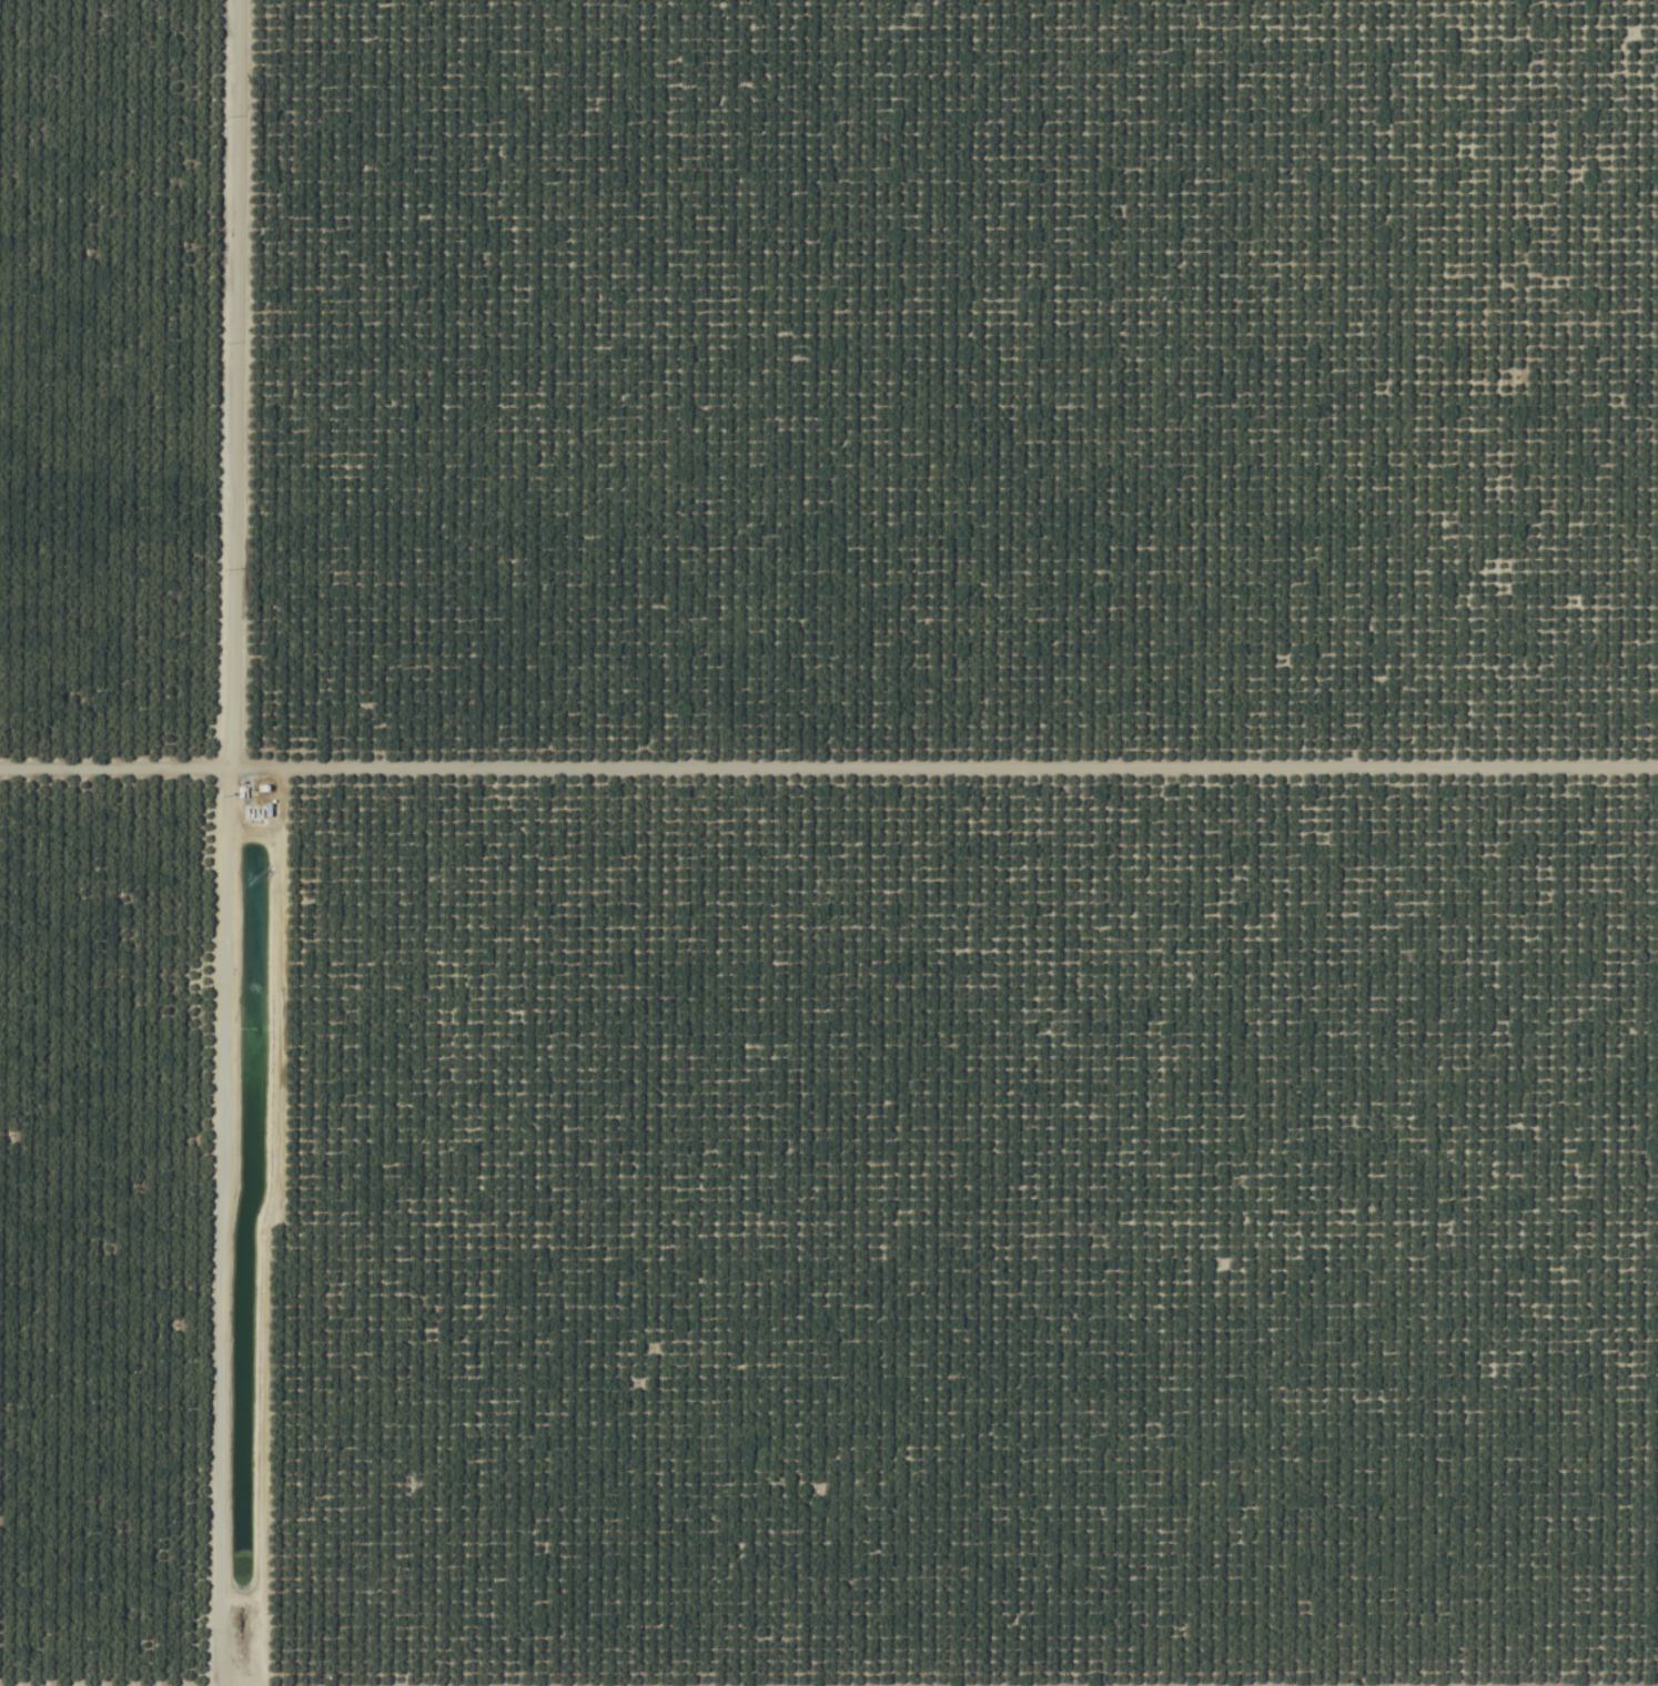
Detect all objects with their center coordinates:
crop: (829, 843)

